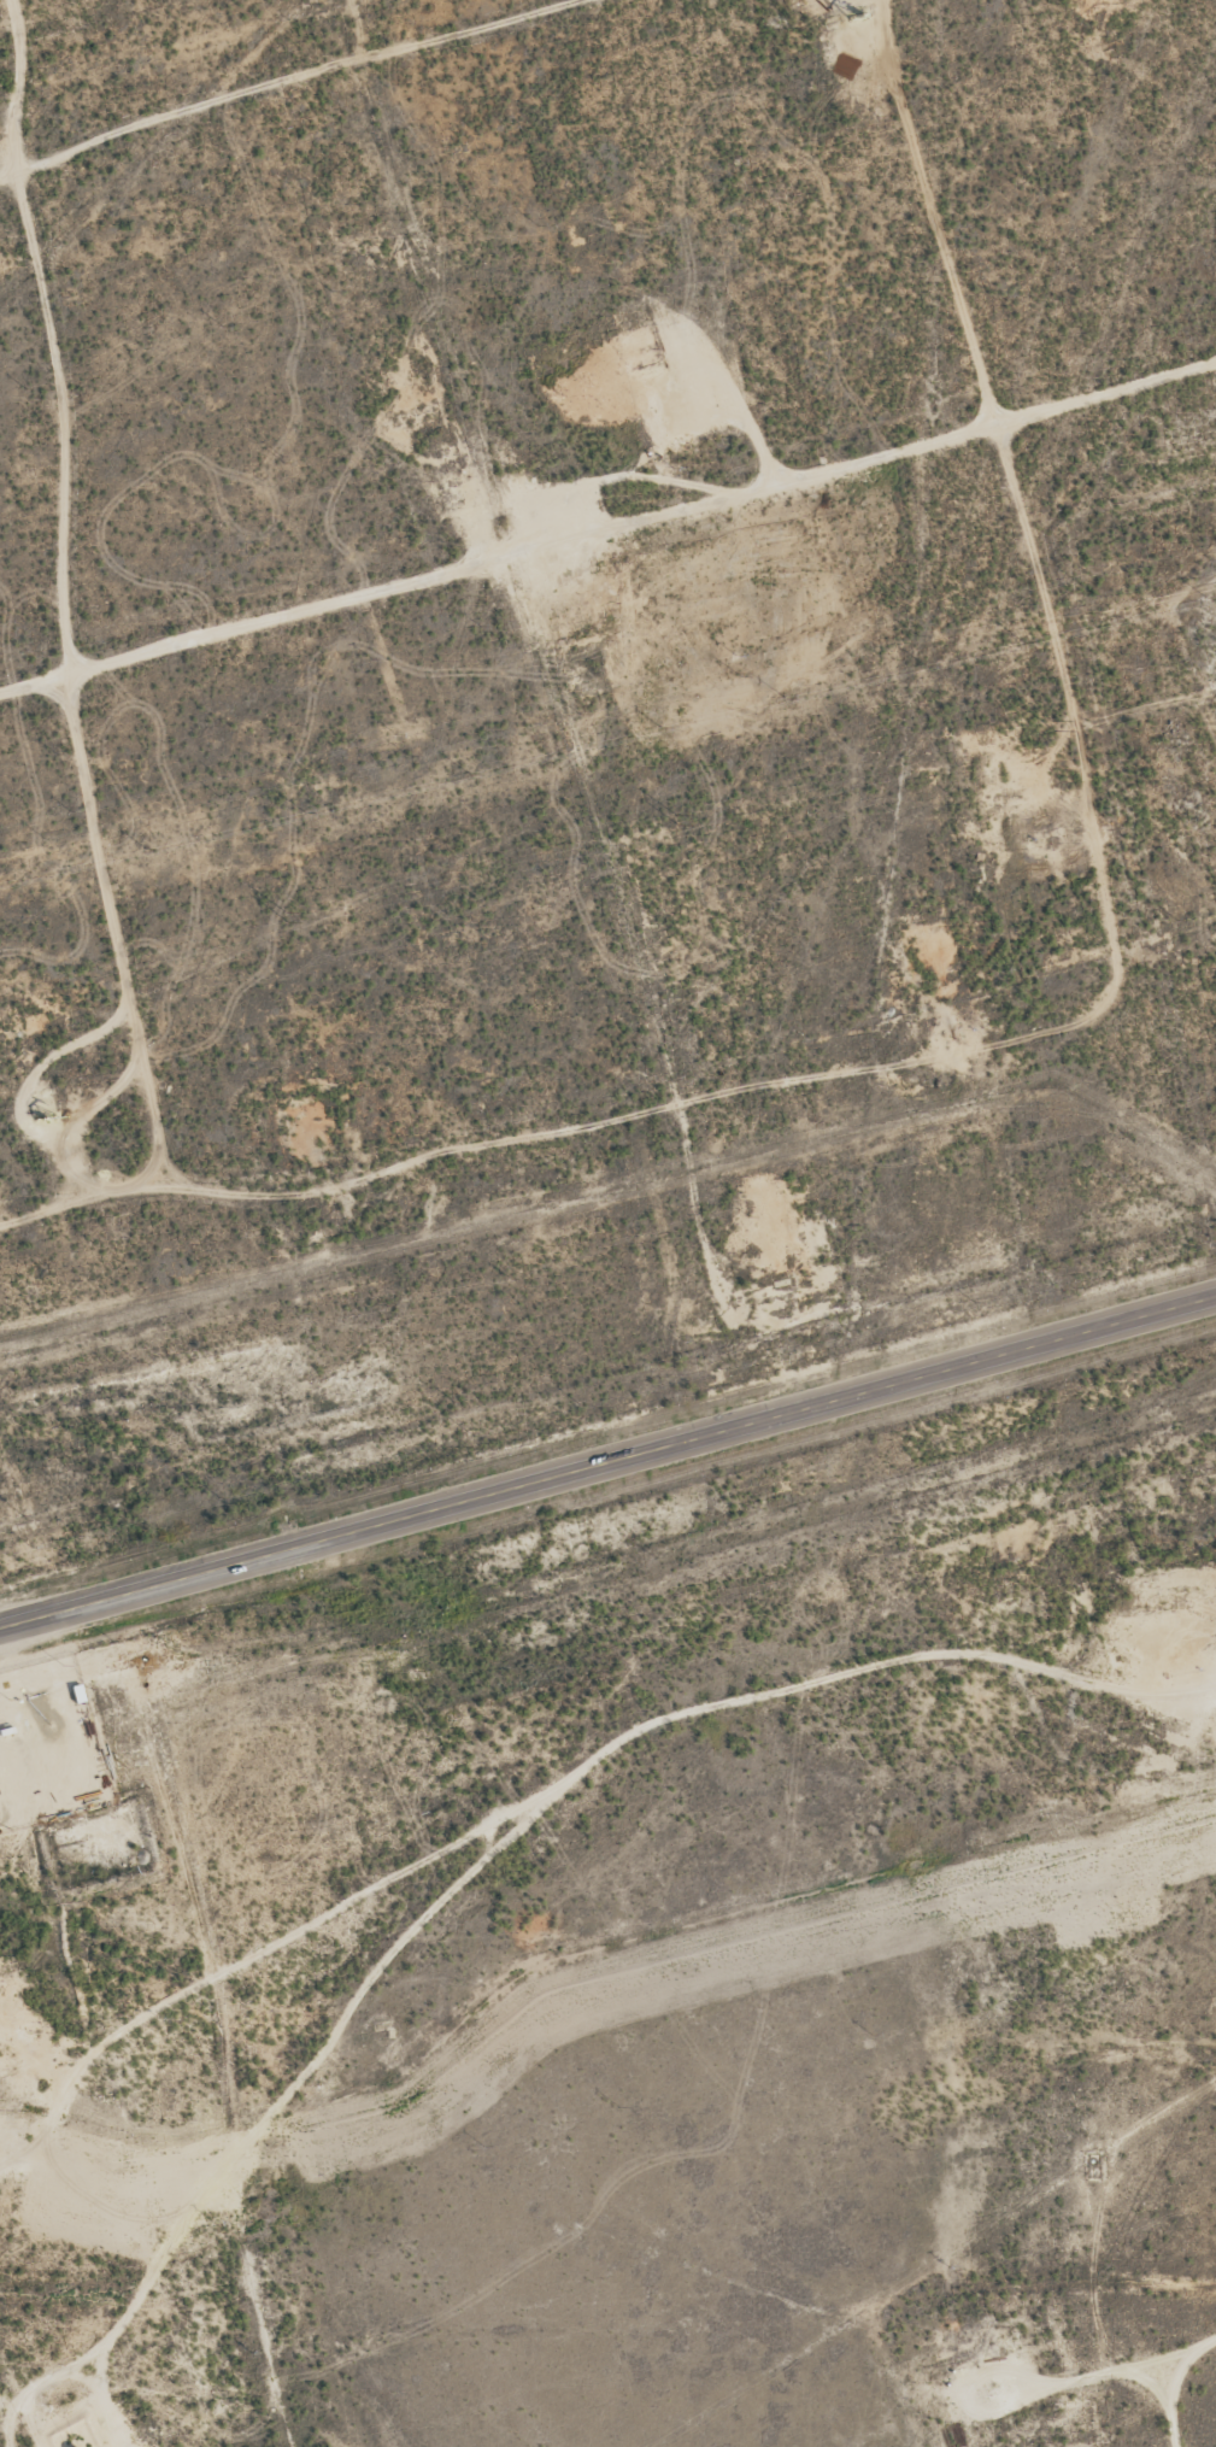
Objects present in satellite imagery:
power tower: (1053, 728)
power tower: (676, 821)
power tower: (284, 919)
road: (607, 1460)

